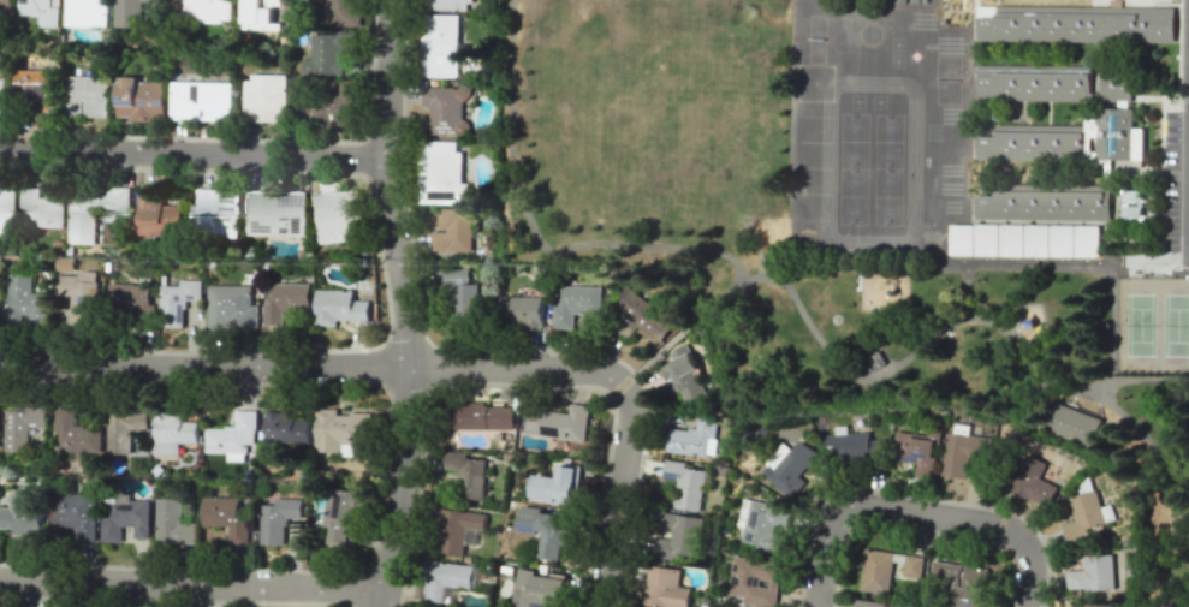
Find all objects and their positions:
road: (801, 0)
road: (860, 1)
building: (5, 5)
building: (448, 5)
building: (41, 11)
building: (135, 11)
building: (202, 11)
building: (334, 11)
building: (85, 12)
building: (260, 13)
road: (831, 14)
building: (1077, 23)
building: (440, 46)
building: (328, 54)
building: (1054, 82)
building: (1, 87)
building: (35, 90)
building: (85, 96)
building: (264, 97)
building: (141, 100)
building: (202, 100)
building: (329, 106)
building: (447, 109)
road: (1187, 131)
building: (1066, 139)
park: (854, 141)
park: (888, 141)
road: (194, 151)
building: (441, 173)
street lamp: (307, 174)
park: (852, 196)
park: (887, 196)
building: (1046, 202)
building: (1131, 203)
building: (43, 207)
building: (7, 210)
building: (91, 210)
building: (277, 212)
building: (216, 213)
building: (156, 215)
building: (340, 216)
road: (533, 230)
building: (453, 231)
building: (963, 238)
building: (987, 238)
building: (1013, 239)
building: (1038, 239)
building: (1063, 239)
building: (1088, 240)
road: (1072, 263)
park: (940, 292)
building: (458, 293)
building: (81, 296)
road: (967, 297)
building: (286, 300)
building: (24, 302)
building: (177, 302)
road: (402, 304)
building: (575, 304)
building: (132, 305)
building: (231, 307)
building: (337, 307)
building: (521, 311)
building: (644, 316)
road: (1111, 322)
park: (1140, 325)
park: (1176, 325)
road: (311, 368)
building: (683, 375)
road: (861, 377)
road: (1140, 380)
building: (481, 416)
building: (557, 422)
building: (1072, 424)
building: (23, 427)
building: (285, 428)
building: (124, 429)
building: (341, 430)
building: (77, 434)
building: (173, 434)
road: (1004, 434)
building: (233, 436)
building: (692, 438)
building: (852, 447)
building: (916, 451)
building: (964, 453)
building: (790, 469)
building: (466, 474)
building: (1033, 482)
building: (684, 484)
building: (555, 486)
road: (616, 494)
building: (23, 513)
building: (75, 513)
road: (914, 514)
building: (340, 516)
building: (1084, 516)
building: (125, 517)
building: (227, 518)
building: (278, 519)
building: (173, 523)
building: (763, 525)
building: (457, 529)
building: (545, 530)
building: (677, 536)
building: (911, 566)
building: (875, 570)
building: (1092, 573)
building: (445, 578)
building: (754, 581)
building: (961, 582)
road: (191, 584)
building: (664, 588)
building: (536, 590)
street lamp: (402, 603)
building: (866, 603)
building: (1096, 605)

